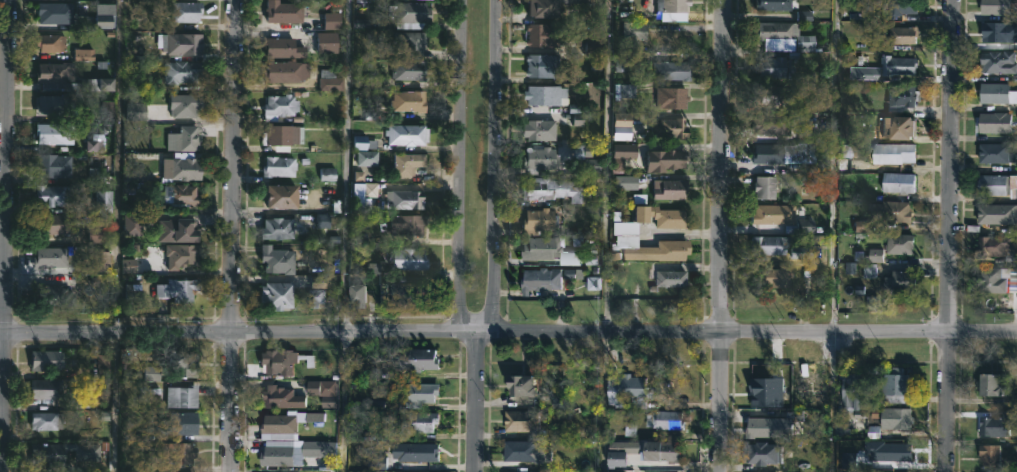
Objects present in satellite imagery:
building: (773, 4)
building: (669, 5)
building: (996, 6)
building: (896, 7)
building: (541, 8)
building: (56, 12)
building: (187, 12)
building: (285, 12)
building: (410, 13)
building: (333, 22)
building: (994, 31)
building: (543, 34)
building: (628, 34)
building: (773, 34)
building: (901, 34)
building: (50, 42)
building: (329, 42)
building: (181, 43)
building: (413, 43)
building: (285, 48)
building: (996, 62)
building: (538, 65)
building: (771, 67)
building: (885, 68)
building: (410, 69)
building: (669, 70)
building: (287, 71)
building: (56, 72)
building: (184, 72)
building: (331, 80)
building: (106, 85)
building: (539, 94)
building: (997, 94)
building: (766, 95)
building: (902, 95)
building: (668, 97)
building: (844, 97)
building: (410, 101)
building: (190, 103)
building: (54, 104)
building: (281, 106)
building: (991, 122)
building: (769, 124)
building: (666, 127)
building: (894, 127)
building: (536, 129)
building: (57, 133)
building: (409, 134)
building: (281, 135)
building: (188, 138)
building: (588, 151)
building: (894, 152)
building: (787, 153)
building: (993, 153)
building: (368, 158)
building: (592, 159)
building: (661, 159)
building: (536, 160)
building: (409, 163)
building: (55, 165)
building: (280, 166)
road: (605, 166)
road: (119, 167)
road: (347, 167)
building: (182, 168)
road: (464, 168)
road: (497, 168)
building: (897, 182)
building: (997, 185)
building: (762, 187)
building: (550, 189)
building: (667, 189)
building: (53, 195)
building: (183, 195)
building: (284, 195)
building: (408, 199)
building: (104, 201)
building: (891, 211)
building: (765, 213)
building: (996, 213)
building: (657, 216)
building: (541, 220)
building: (134, 224)
building: (56, 225)
building: (408, 225)
building: (278, 228)
building: (180, 231)
road: (6, 235)
road: (233, 235)
road: (723, 236)
road: (833, 236)
road: (949, 236)
building: (898, 243)
building: (766, 245)
building: (995, 246)
building: (648, 249)
building: (546, 251)
building: (182, 255)
building: (53, 257)
building: (410, 258)
building: (278, 260)
building: (101, 262)
building: (129, 267)
building: (772, 278)
building: (539, 279)
building: (667, 280)
building: (996, 280)
building: (897, 281)
building: (179, 289)
building: (359, 293)
building: (407, 293)
building: (280, 295)
building: (55, 296)
building: (321, 297)
road: (508, 333)
building: (422, 360)
building: (50, 361)
building: (284, 362)
building: (185, 364)
building: (987, 385)
building: (526, 386)
building: (893, 387)
building: (48, 389)
building: (316, 389)
building: (631, 389)
building: (801, 389)
building: (583, 390)
building: (849, 391)
building: (421, 395)
building: (183, 397)
building: (283, 398)
road: (341, 402)
road: (603, 402)
road: (116, 403)
road: (477, 403)
building: (891, 418)
building: (663, 420)
building: (46, 421)
building: (521, 422)
building: (185, 423)
building: (422, 423)
building: (996, 425)
building: (282, 426)
building: (757, 427)
building: (892, 451)
building: (418, 452)
building: (529, 452)
building: (666, 452)
building: (89, 453)
building: (280, 453)
building: (625, 453)
building: (50, 454)
building: (178, 454)
building: (759, 454)
building: (990, 454)
building: (853, 460)

